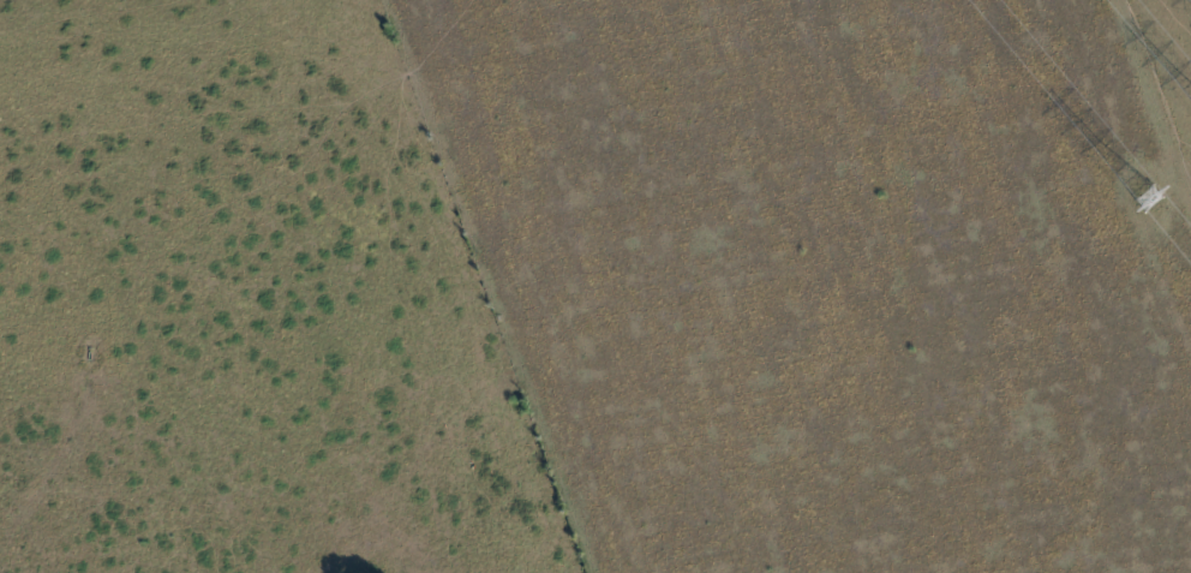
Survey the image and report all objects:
power tower: (1144, 198)

